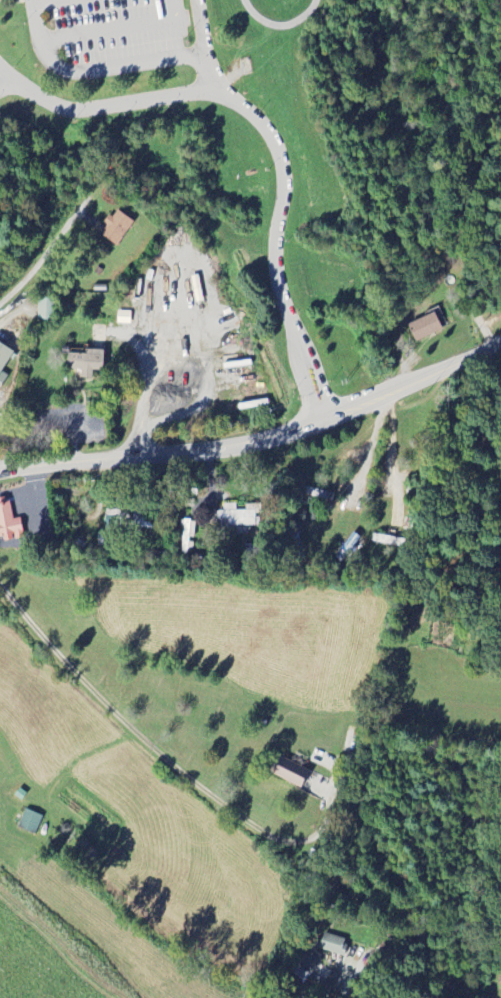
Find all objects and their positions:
road: (45, 2)
track: (304, 16)
road: (201, 25)
road: (117, 28)
road: (3, 71)
road: (94, 71)
road: (211, 72)
road: (3, 79)
road: (271, 137)
building: (116, 228)
road: (44, 254)
road: (478, 294)
building: (45, 310)
building: (426, 326)
building: (86, 363)
road: (495, 366)
road: (259, 443)
road: (389, 446)
road: (368, 448)
building: (237, 518)
building: (126, 522)
building: (9, 525)
road: (153, 742)
building: (290, 773)
building: (29, 822)
building: (332, 945)
building: (309, 969)
road: (347, 991)

